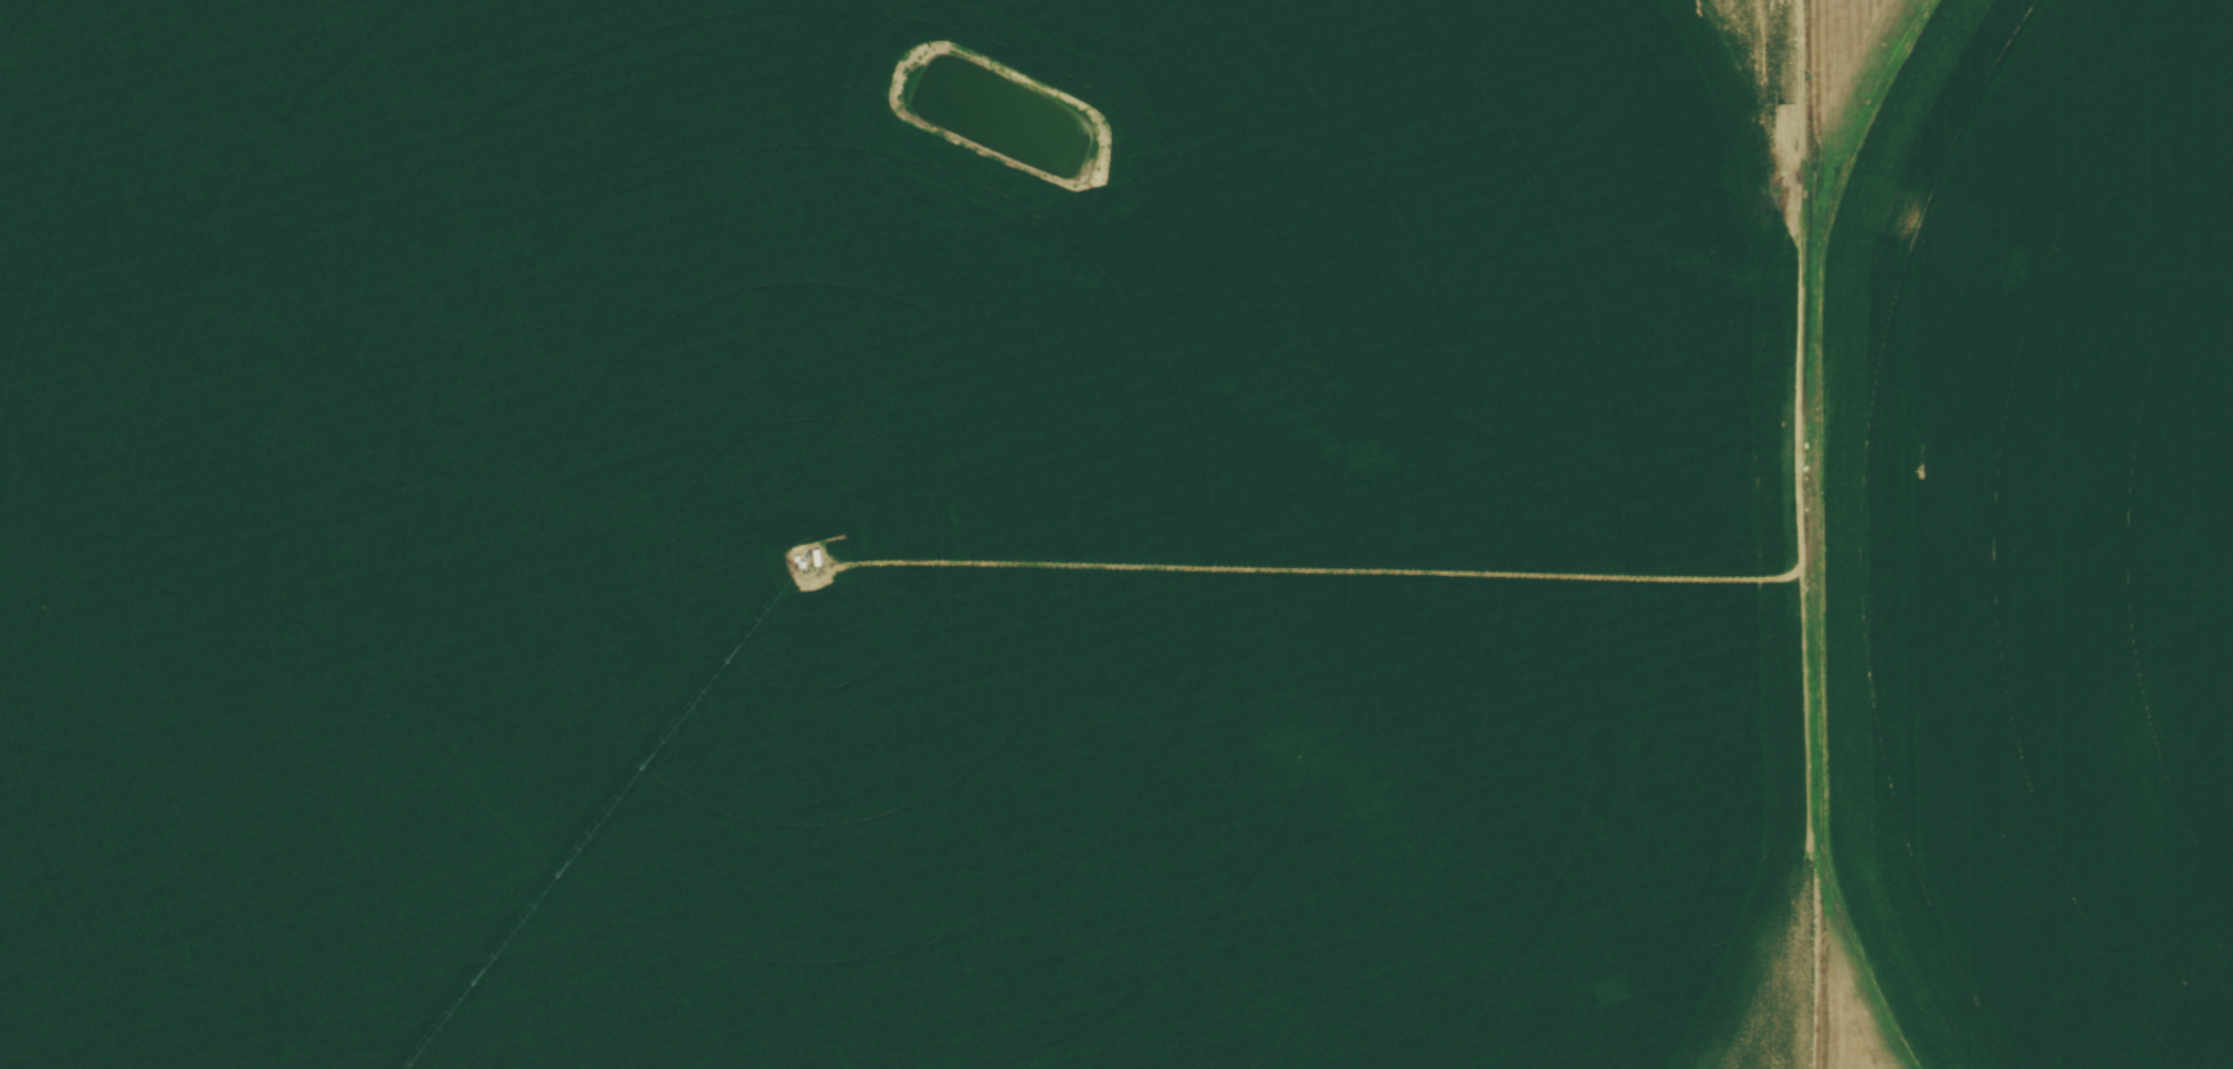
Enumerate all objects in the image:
road: (1801, 534)

